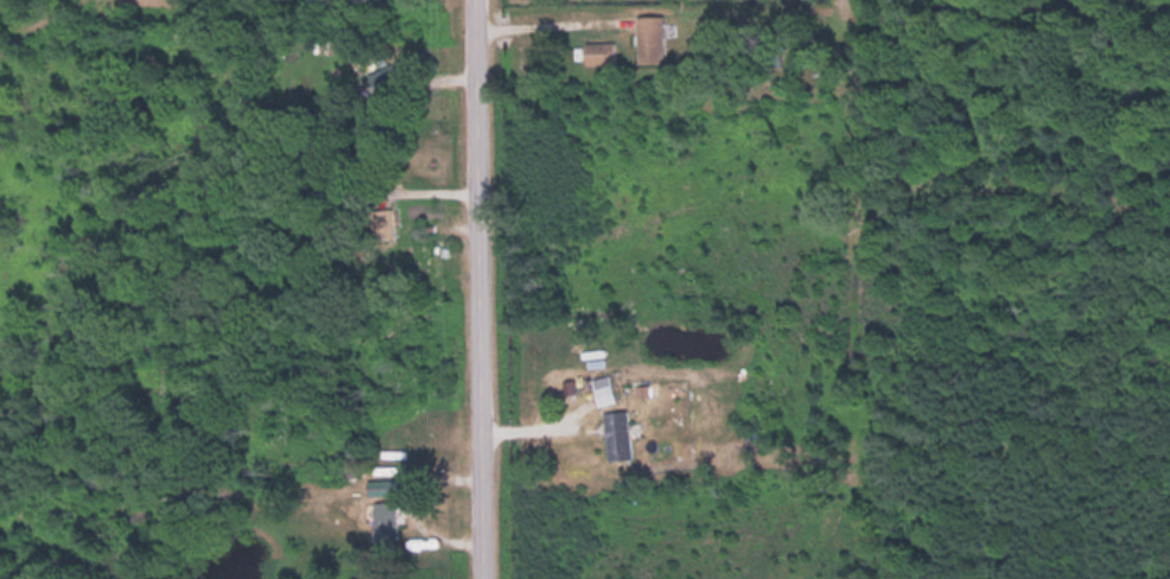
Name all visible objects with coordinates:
road: (542, 21)
building: (654, 37)
building: (599, 52)
building: (392, 75)
road: (477, 288)
building: (623, 432)

